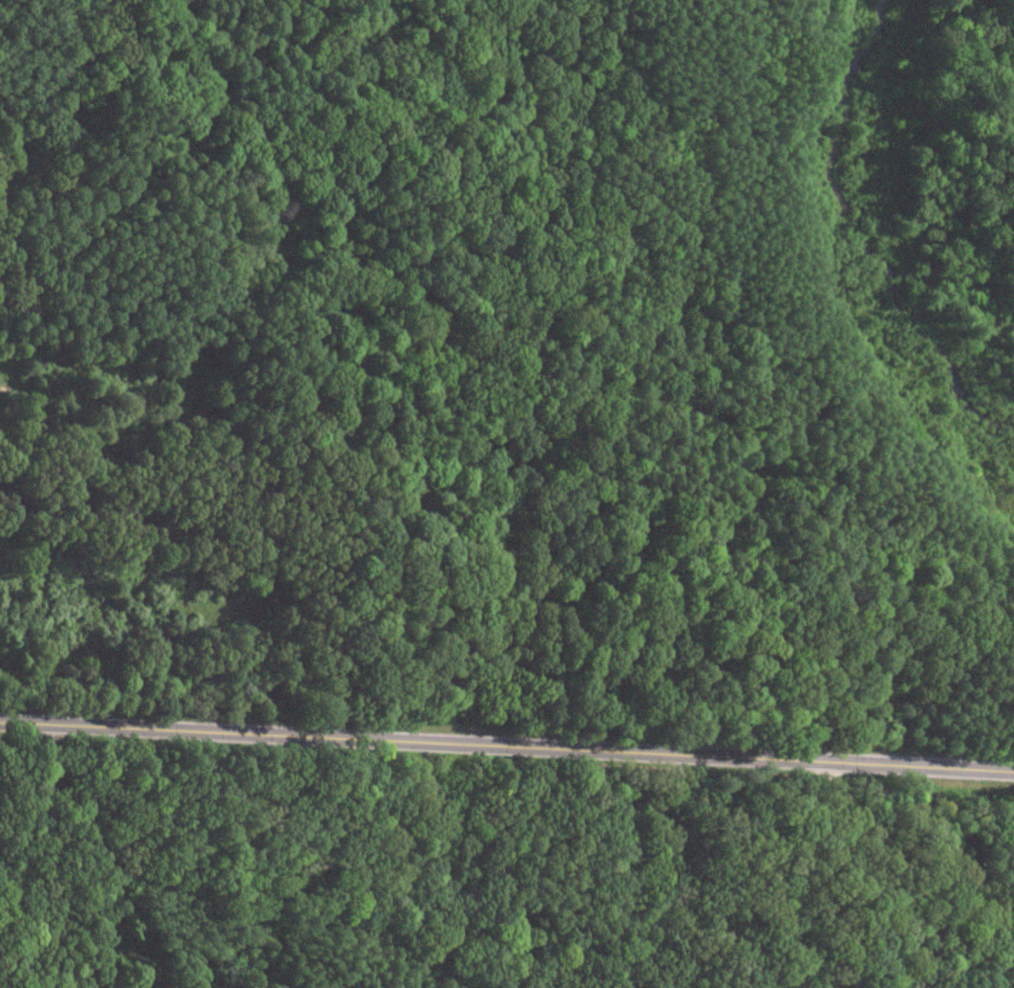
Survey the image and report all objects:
parking lot: (12, 391)
road: (507, 746)
road: (879, 871)

